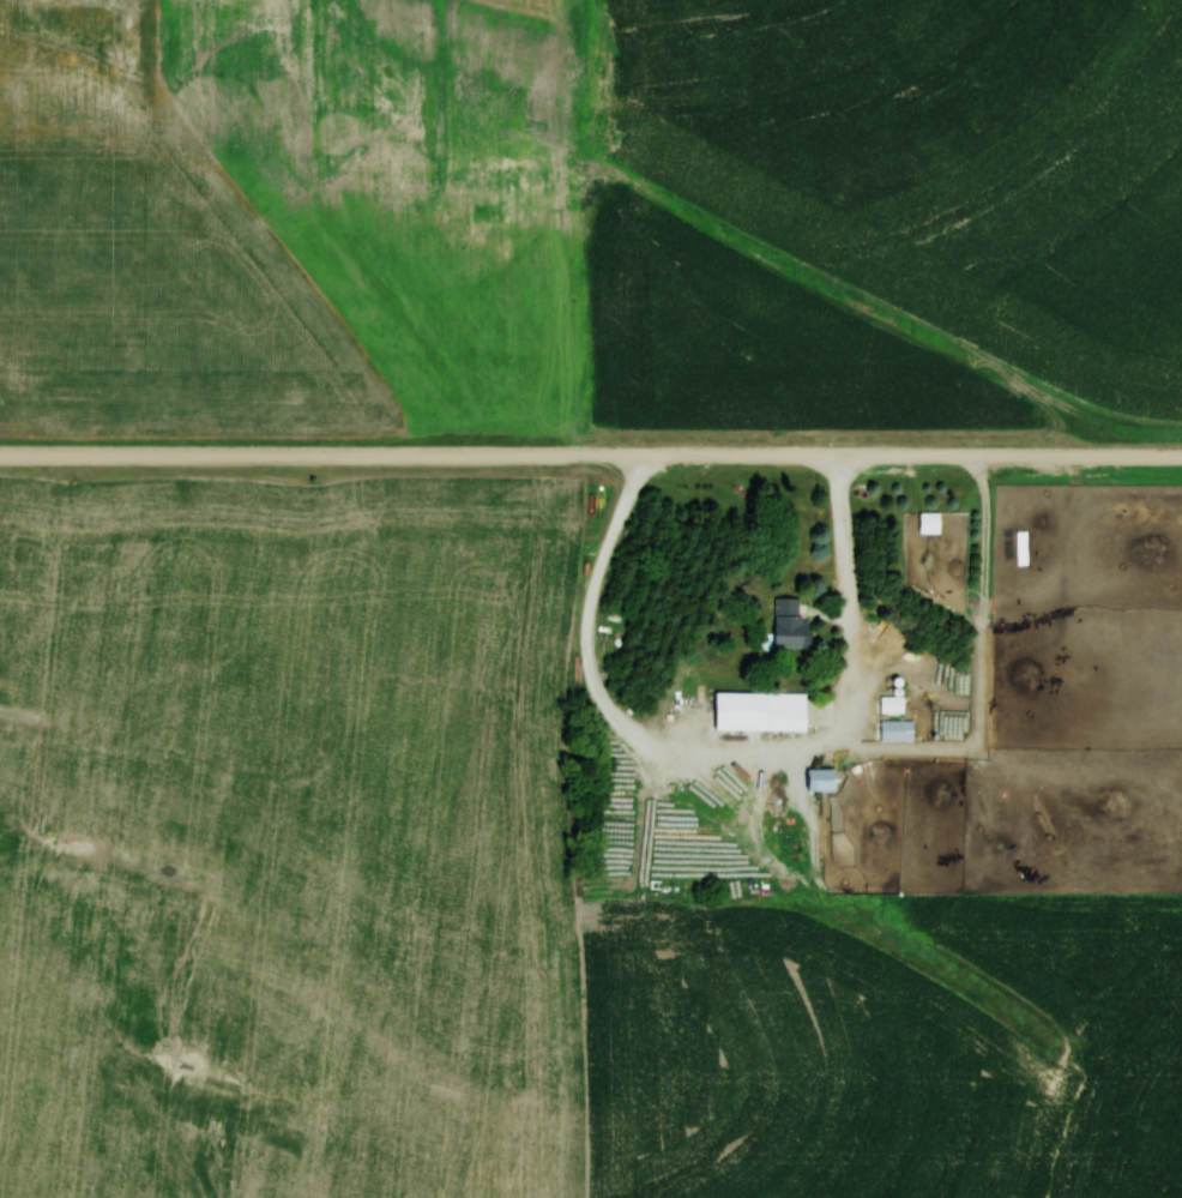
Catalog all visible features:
road: (590, 457)
building: (928, 523)
building: (786, 624)
building: (889, 705)
building: (764, 715)
building: (895, 730)
road: (737, 753)
building: (819, 781)

